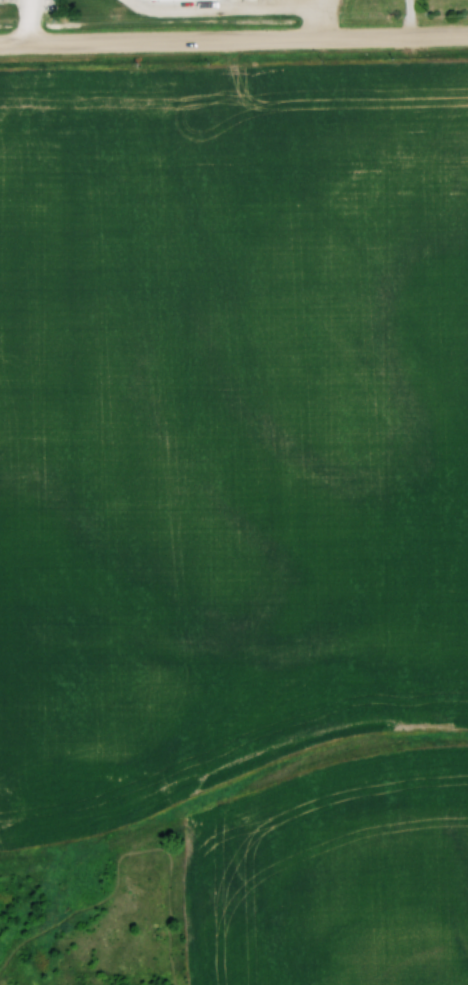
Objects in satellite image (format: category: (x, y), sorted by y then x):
road: (314, 1)
road: (315, 1)
road: (244, 5)
road: (22, 23)
road: (425, 37)
road: (191, 42)

